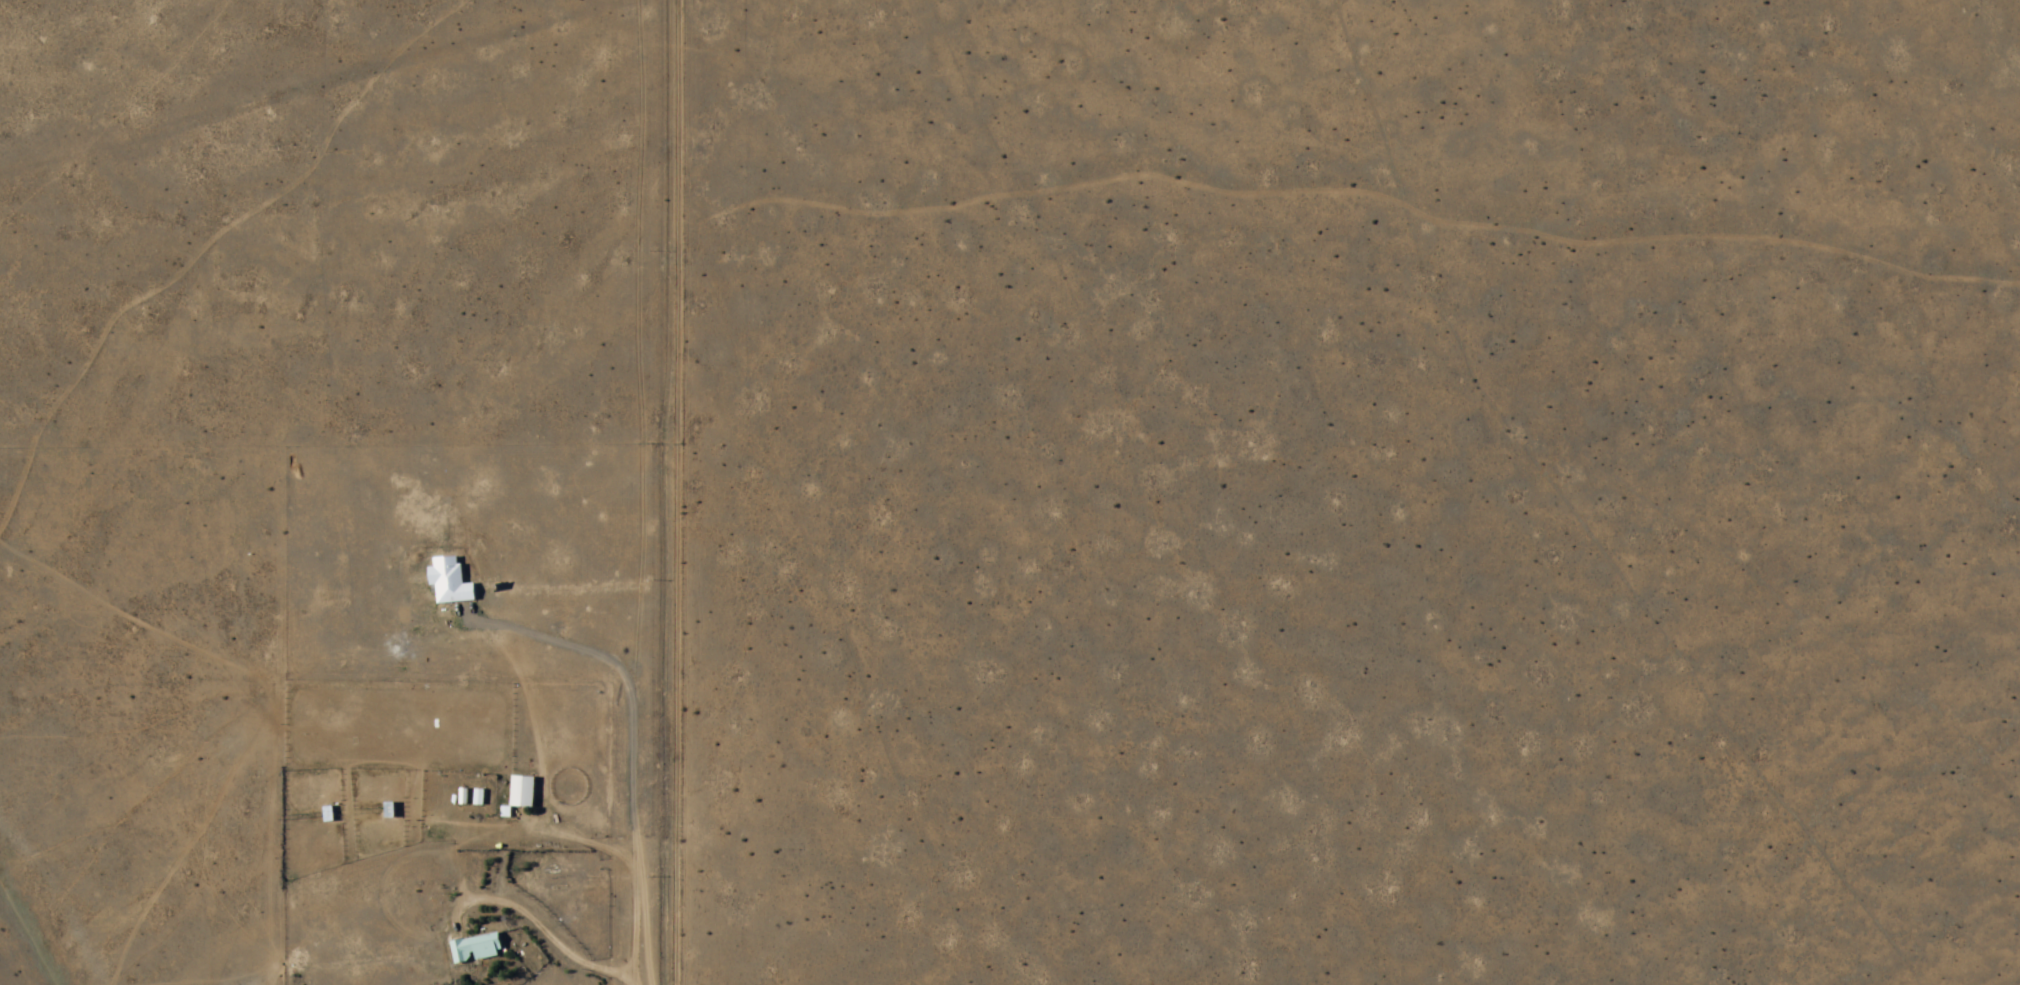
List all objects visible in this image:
road: (589, 492)
road: (648, 492)
building: (523, 792)
building: (478, 798)
building: (438, 834)
building: (477, 949)

